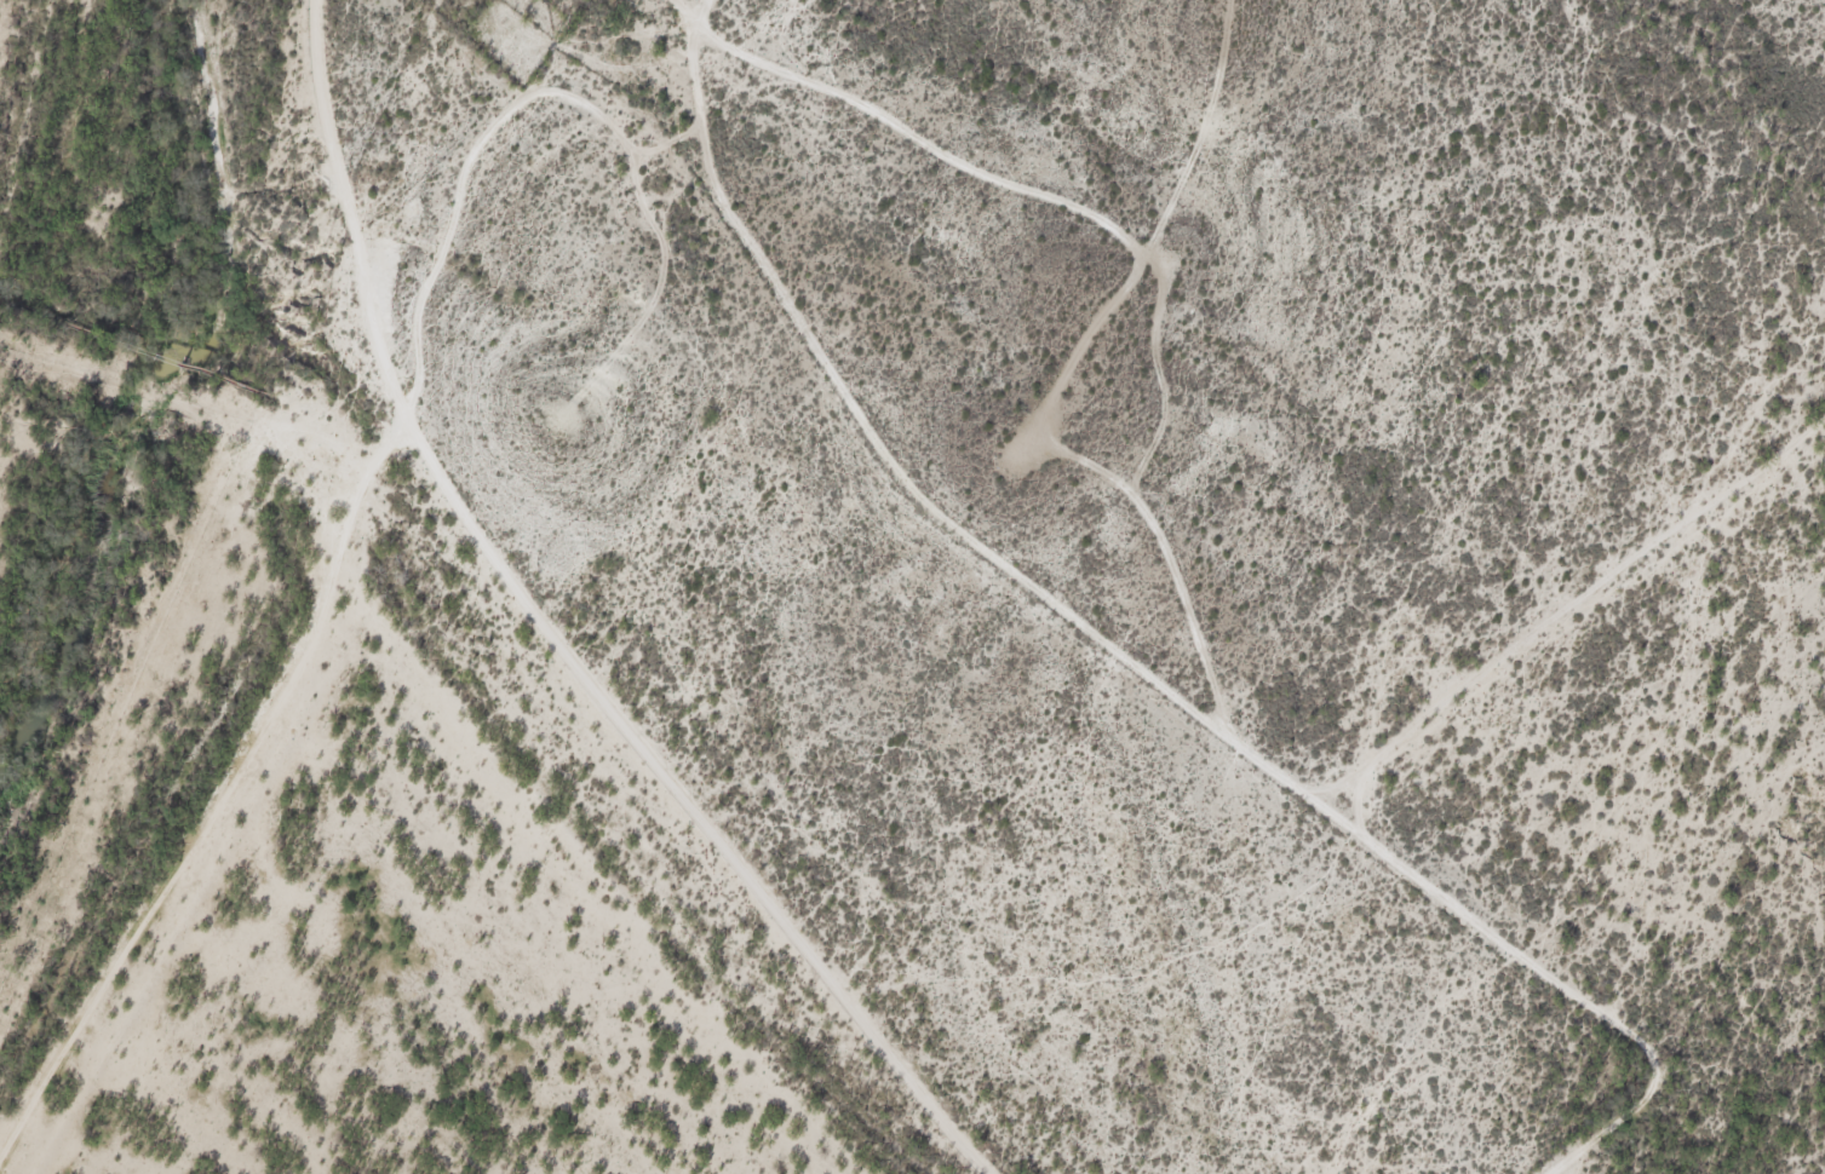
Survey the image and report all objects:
road: (681, 24)
road: (356, 217)
road: (497, 562)

